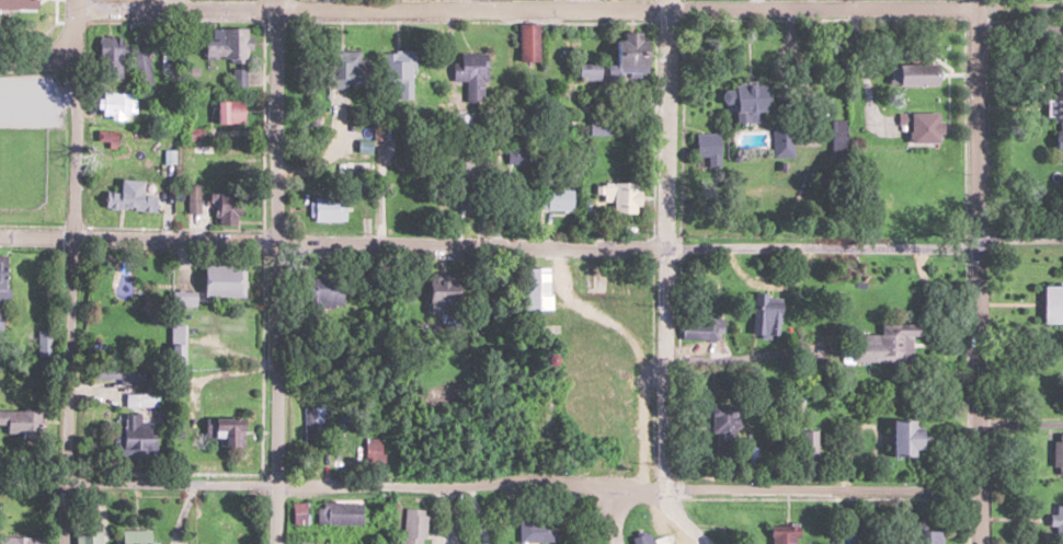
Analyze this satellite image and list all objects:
building: (16, 3)
road: (480, 3)
road: (570, 8)
building: (528, 42)
building: (229, 43)
road: (38, 55)
building: (110, 56)
building: (142, 58)
building: (619, 61)
building: (348, 69)
building: (399, 71)
building: (918, 72)
building: (471, 74)
building: (745, 102)
building: (113, 105)
building: (1056, 111)
building: (230, 112)
building: (599, 127)
building: (925, 128)
building: (839, 136)
building: (107, 139)
building: (781, 141)
building: (521, 159)
building: (224, 161)
building: (459, 184)
building: (619, 196)
building: (129, 197)
building: (193, 199)
building: (558, 199)
building: (226, 208)
building: (327, 208)
road: (530, 245)
road: (71, 271)
road: (273, 271)
road: (980, 271)
road: (668, 278)
building: (221, 281)
building: (1, 283)
building: (535, 288)
building: (323, 291)
building: (442, 293)
building: (1053, 304)
building: (765, 315)
building: (888, 342)
building: (175, 350)
building: (113, 381)
building: (20, 424)
building: (724, 426)
building: (136, 429)
building: (311, 429)
building: (224, 431)
building: (904, 439)
building: (808, 444)
building: (1058, 453)
road: (490, 484)
building: (299, 512)
building: (341, 512)
road: (588, 513)
building: (1059, 523)
building: (227, 524)
building: (416, 525)
building: (537, 530)
building: (784, 535)
building: (85, 536)
building: (134, 536)
building: (930, 536)
building: (641, 539)
building: (20, 540)

